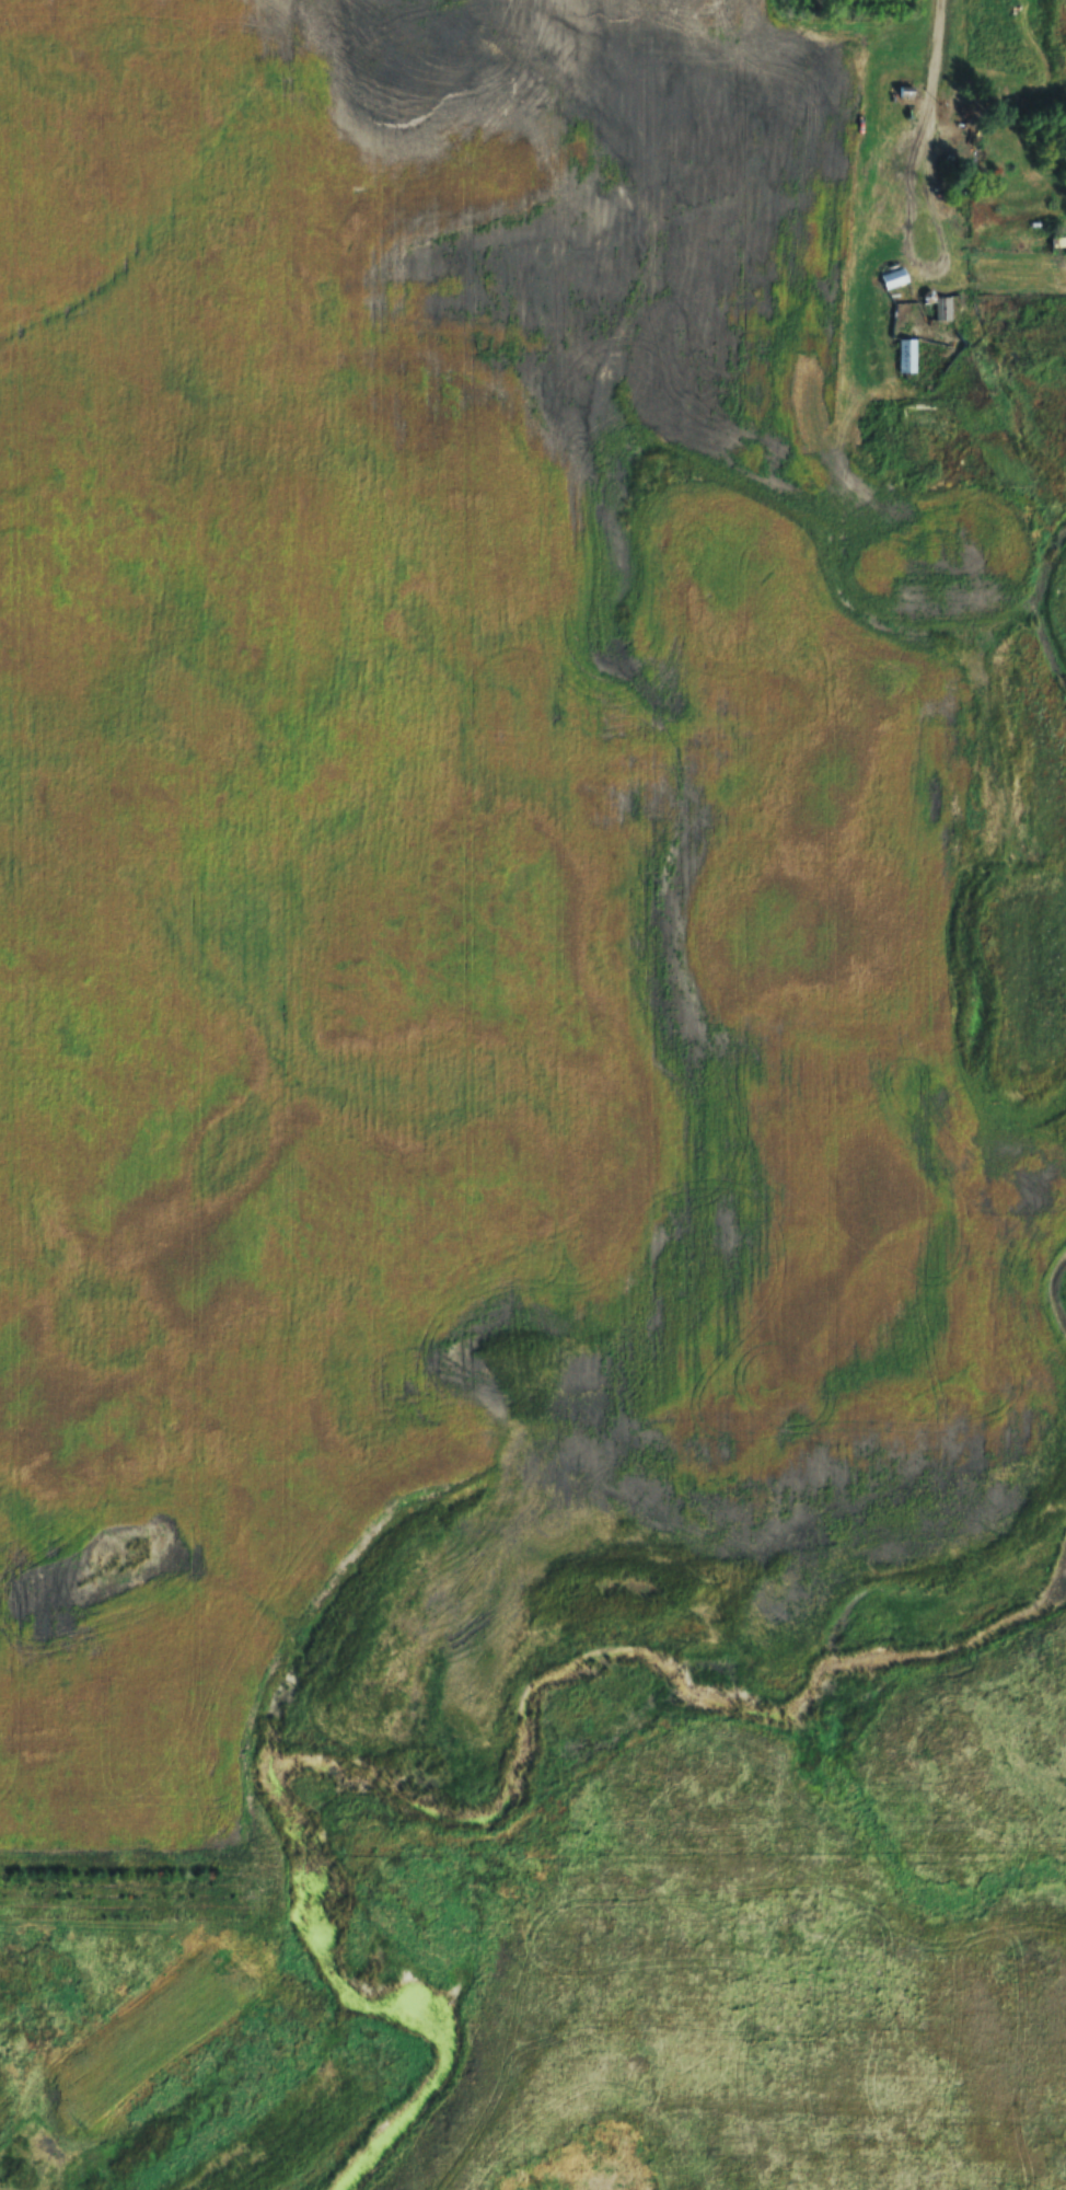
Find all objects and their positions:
building: (964, 102)
building: (893, 280)
building: (885, 308)
building: (942, 310)
building: (881, 330)
building: (906, 357)

